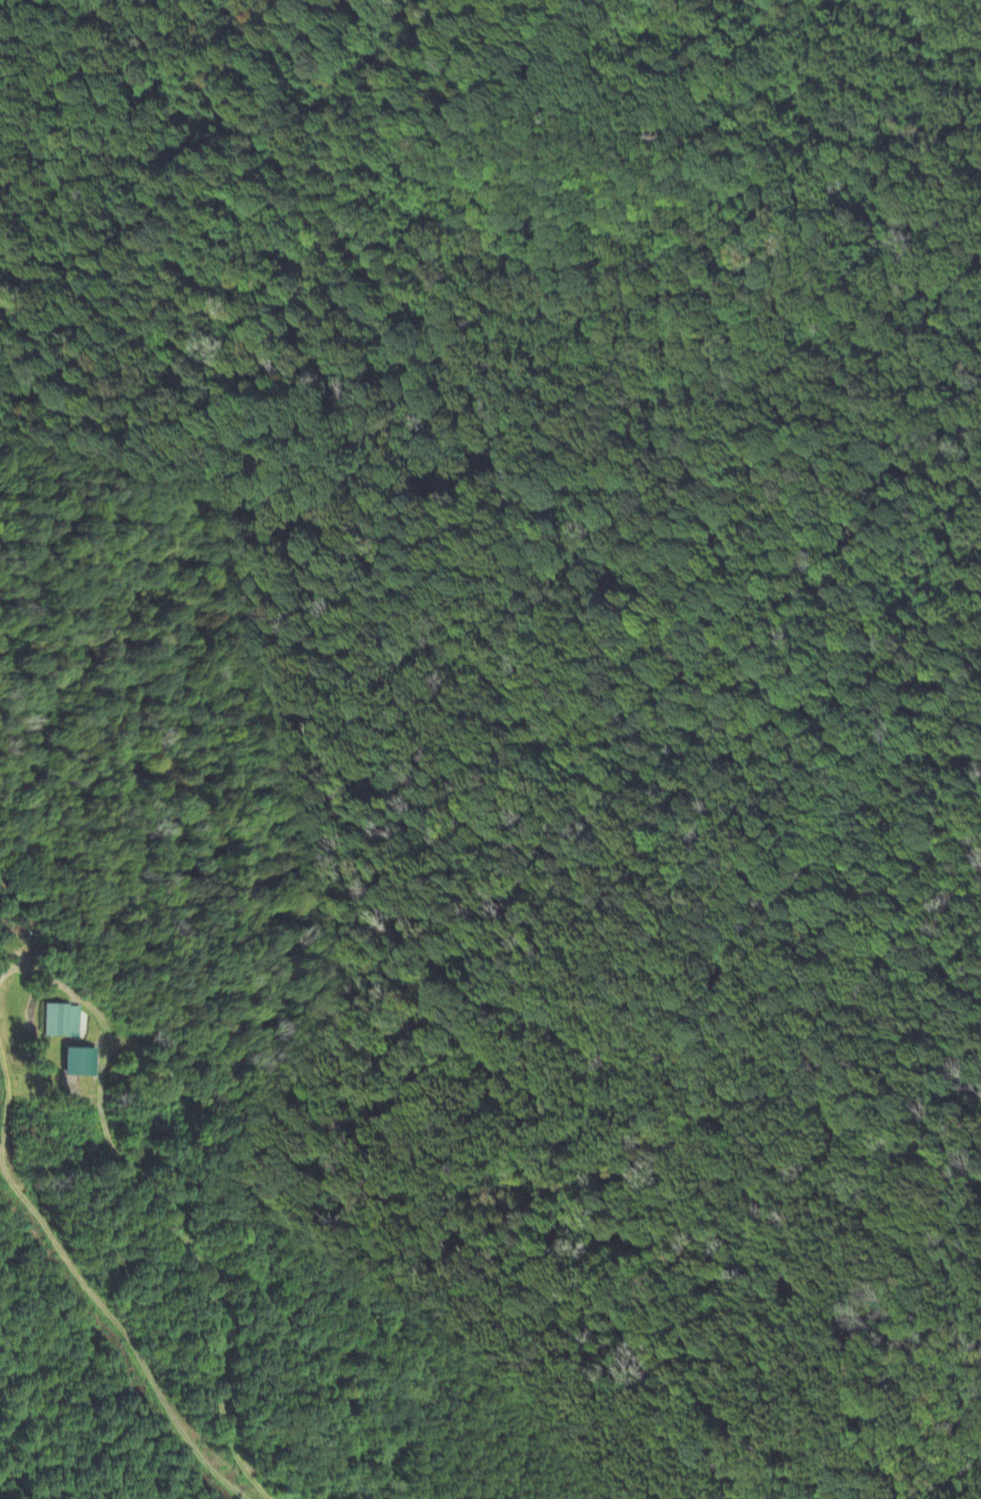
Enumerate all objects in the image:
building: (62, 1020)
building: (80, 1062)
road: (154, 1199)
road: (83, 1285)

